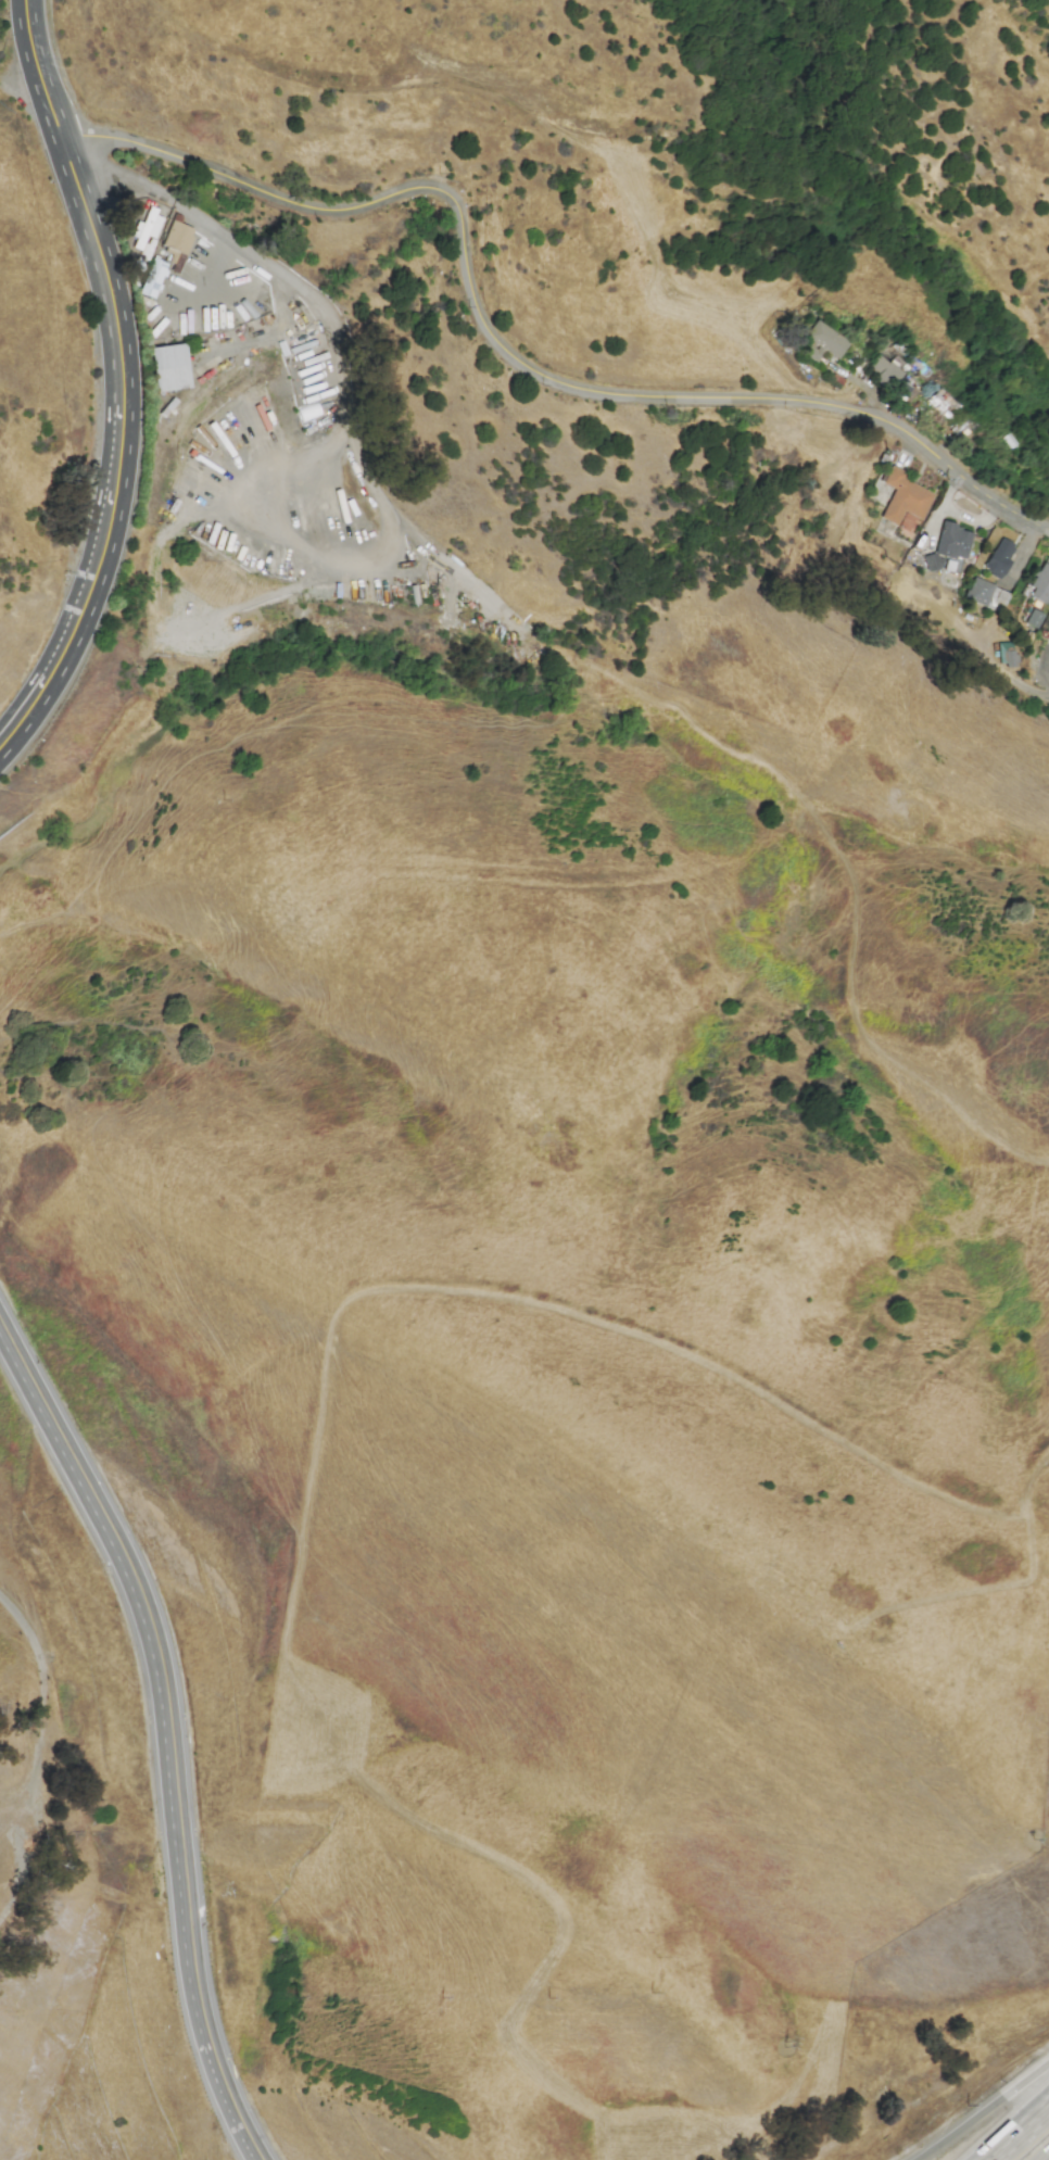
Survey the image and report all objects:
road: (24, 91)
road: (359, 92)
road: (79, 192)
road: (641, 228)
building: (177, 244)
road: (206, 274)
building: (153, 278)
road: (293, 285)
building: (823, 342)
road: (509, 354)
building: (169, 367)
building: (883, 369)
building: (902, 497)
road: (282, 534)
building: (952, 542)
building: (999, 558)
building: (931, 563)
road: (96, 581)
building: (1040, 583)
building: (987, 595)
building: (1033, 619)
building: (1007, 654)
road: (160, 1656)
road: (47, 1689)
road: (230, 2095)
road: (986, 2117)
road: (1020, 2133)

